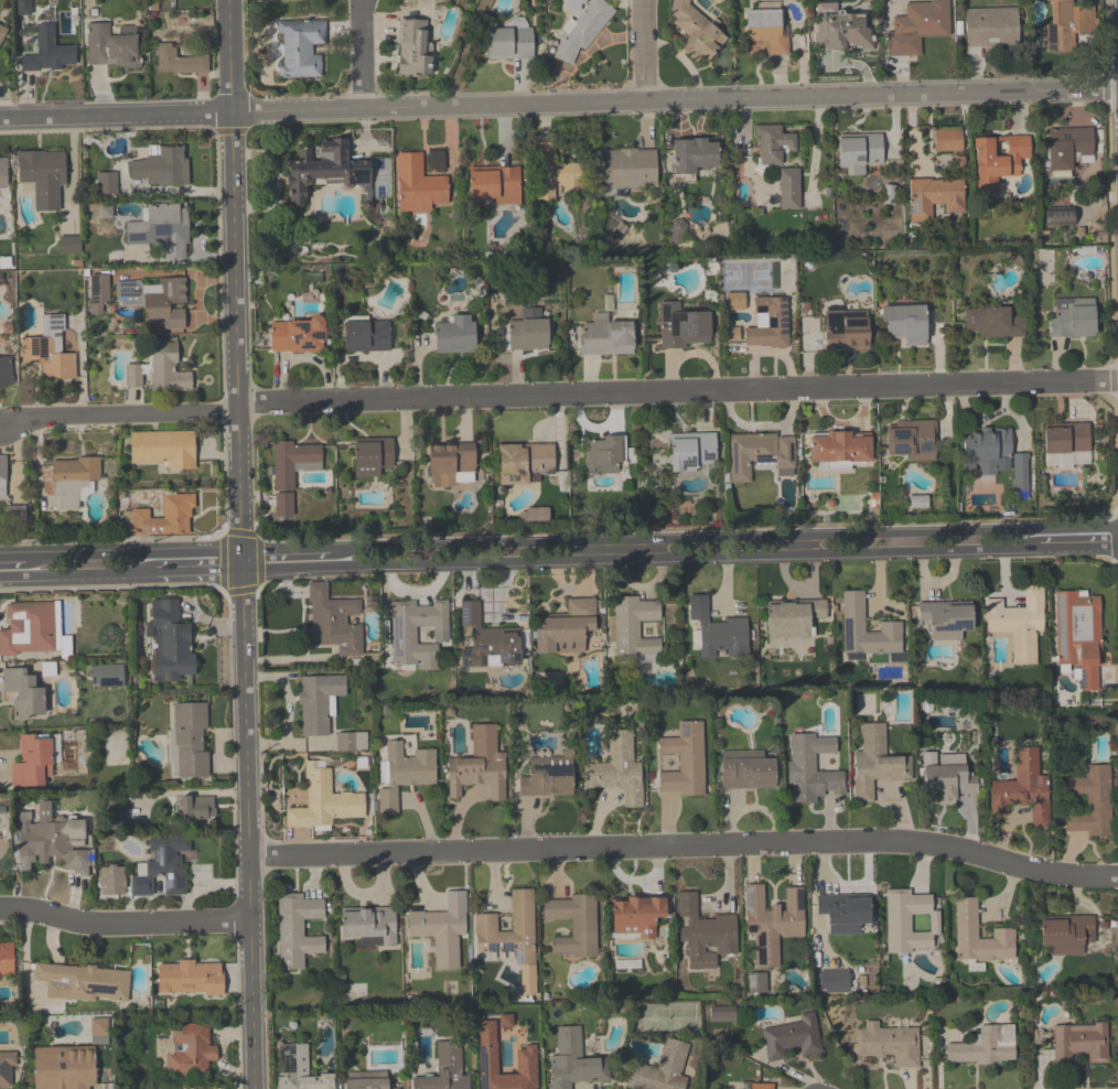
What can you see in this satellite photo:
building: (573, 3)
building: (1066, 23)
building: (916, 26)
building: (989, 26)
building: (582, 29)
building: (695, 30)
building: (840, 31)
building: (2, 33)
building: (764, 41)
building: (508, 43)
building: (111, 45)
building: (415, 47)
building: (300, 50)
road: (644, 50)
building: (49, 52)
road: (362, 54)
road: (230, 55)
building: (182, 61)
road: (559, 104)
road: (229, 131)
building: (946, 139)
building: (772, 143)
building: (1067, 147)
building: (858, 151)
road: (217, 154)
building: (692, 154)
building: (996, 160)
building: (436, 161)
building: (162, 166)
building: (628, 169)
building: (2, 172)
building: (329, 172)
building: (551, 172)
building: (42, 176)
building: (106, 184)
building: (419, 185)
building: (495, 185)
building: (789, 190)
building: (933, 196)
building: (1057, 215)
building: (162, 231)
building: (677, 233)
building: (69, 245)
building: (98, 293)
building: (166, 303)
building: (733, 303)
building: (1072, 317)
building: (991, 322)
building: (767, 323)
building: (904, 323)
building: (680, 325)
building: (845, 328)
building: (297, 334)
building: (454, 334)
building: (527, 334)
building: (365, 335)
building: (604, 336)
building: (46, 358)
building: (161, 369)
building: (7, 371)
road: (677, 390)
road: (223, 411)
road: (120, 417)
building: (912, 440)
building: (1066, 443)
building: (838, 448)
building: (165, 449)
building: (690, 450)
building: (988, 450)
building: (757, 453)
building: (370, 455)
building: (602, 455)
building: (290, 461)
building: (449, 461)
building: (523, 461)
building: (3, 466)
building: (76, 470)
building: (1021, 475)
building: (283, 506)
building: (15, 515)
building: (165, 516)
road: (163, 539)
road: (723, 539)
road: (794, 546)
road: (1077, 546)
road: (634, 550)
road: (286, 551)
road: (135, 556)
road: (639, 558)
road: (13, 559)
road: (200, 571)
road: (78, 575)
road: (244, 600)
building: (794, 617)
building: (946, 618)
building: (334, 621)
building: (1021, 623)
building: (635, 626)
building: (853, 626)
building: (565, 628)
building: (30, 629)
building: (417, 632)
building: (718, 633)
building: (1078, 635)
building: (488, 640)
building: (170, 641)
building: (106, 675)
building: (24, 694)
building: (316, 701)
building: (190, 740)
building: (351, 742)
building: (682, 758)
building: (32, 762)
building: (875, 762)
building: (479, 765)
building: (811, 768)
building: (616, 769)
building: (745, 769)
building: (404, 773)
building: (546, 780)
building: (946, 781)
building: (1022, 788)
building: (323, 800)
building: (1090, 801)
building: (194, 808)
building: (51, 842)
road: (685, 845)
building: (168, 862)
building: (111, 880)
building: (842, 910)
building: (636, 915)
building: (907, 920)
building: (771, 921)
building: (572, 924)
road: (125, 925)
building: (368, 925)
building: (441, 927)
building: (965, 927)
building: (295, 928)
building: (703, 931)
building: (1066, 934)
building: (510, 936)
building: (6, 959)
building: (190, 979)
building: (83, 982)
building: (835, 982)
building: (756, 983)
building: (721, 1014)
building: (99, 1031)
building: (791, 1037)
building: (1081, 1041)
building: (886, 1042)
building: (983, 1046)
building: (190, 1052)
building: (525, 1060)
building: (572, 1060)
building: (6, 1066)
building: (65, 1067)
building: (443, 1068)
building: (662, 1068)
building: (299, 1070)
building: (366, 1082)
building: (760, 1086)

